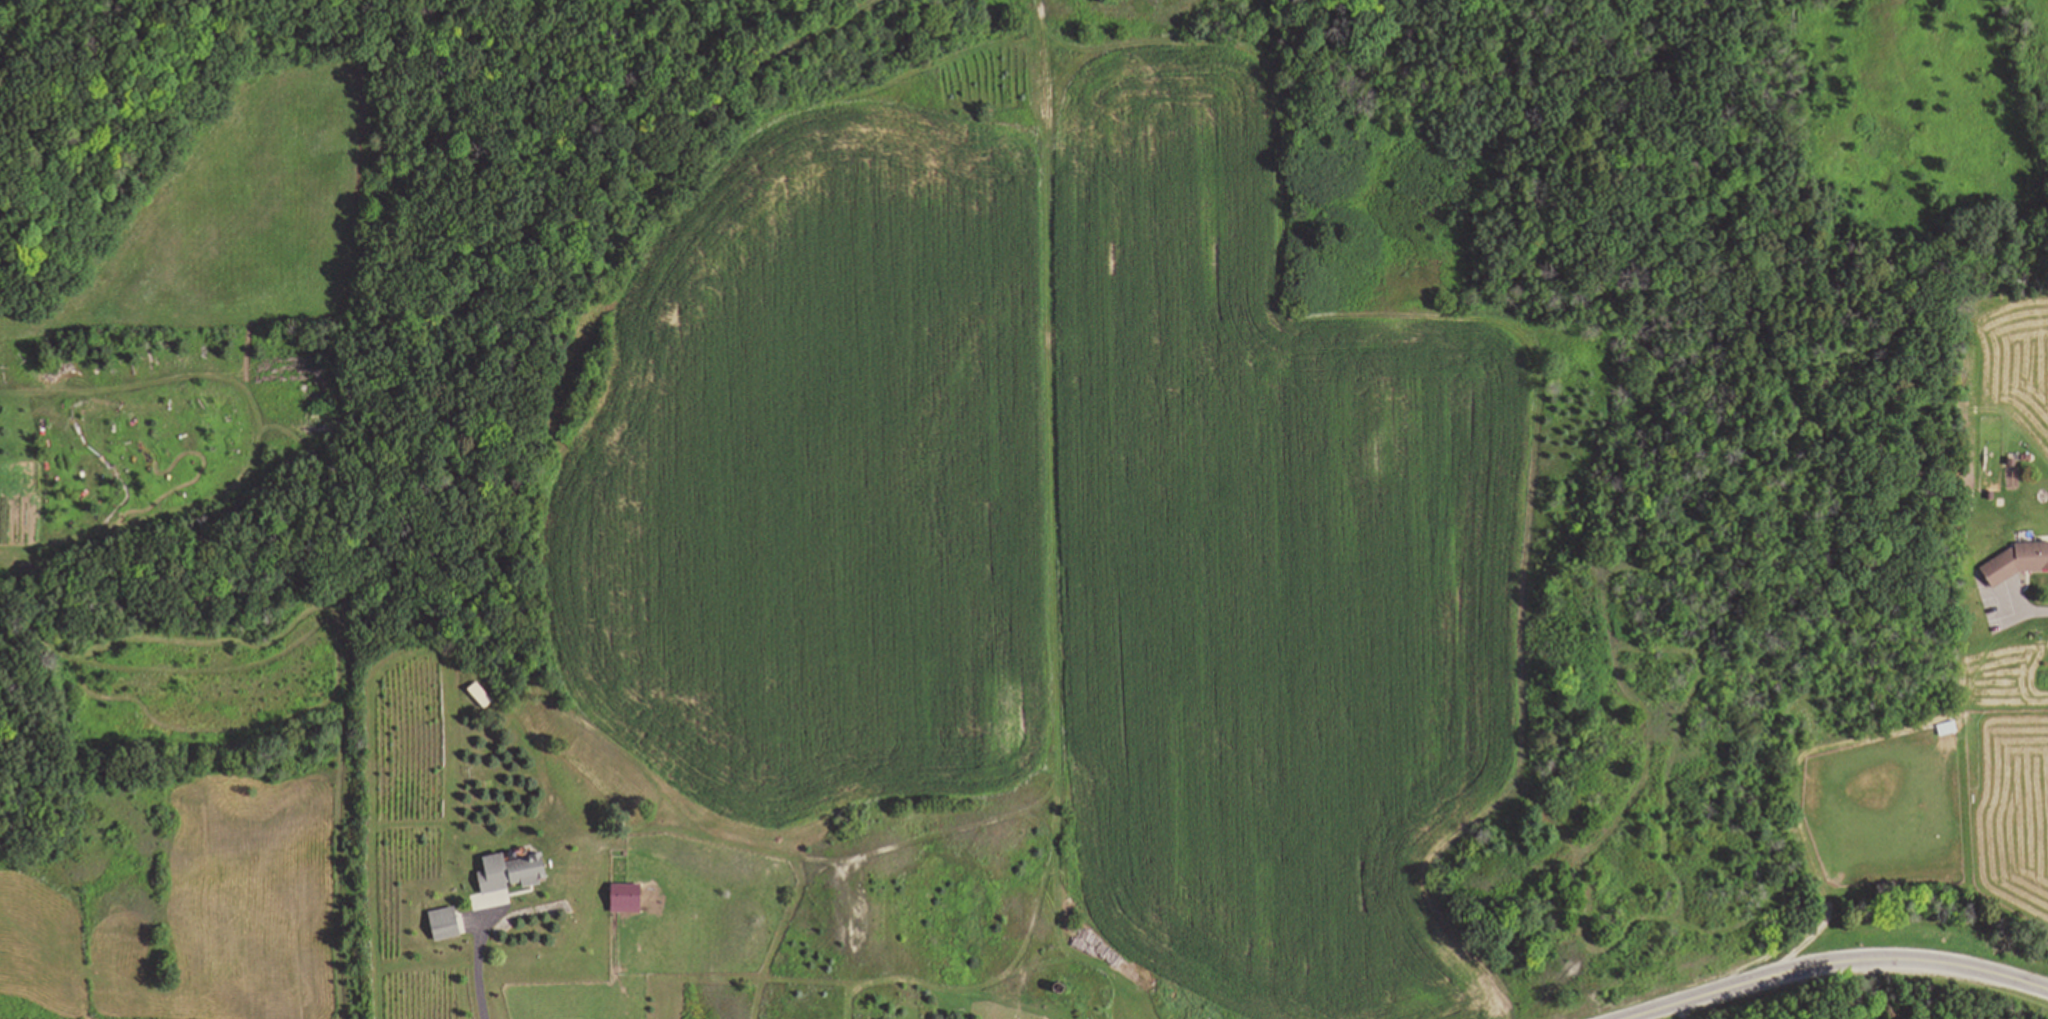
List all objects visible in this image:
building: (2018, 564)
road: (2028, 610)
building: (1951, 729)
building: (629, 899)
building: (448, 924)
road: (1833, 963)
road: (479, 966)

